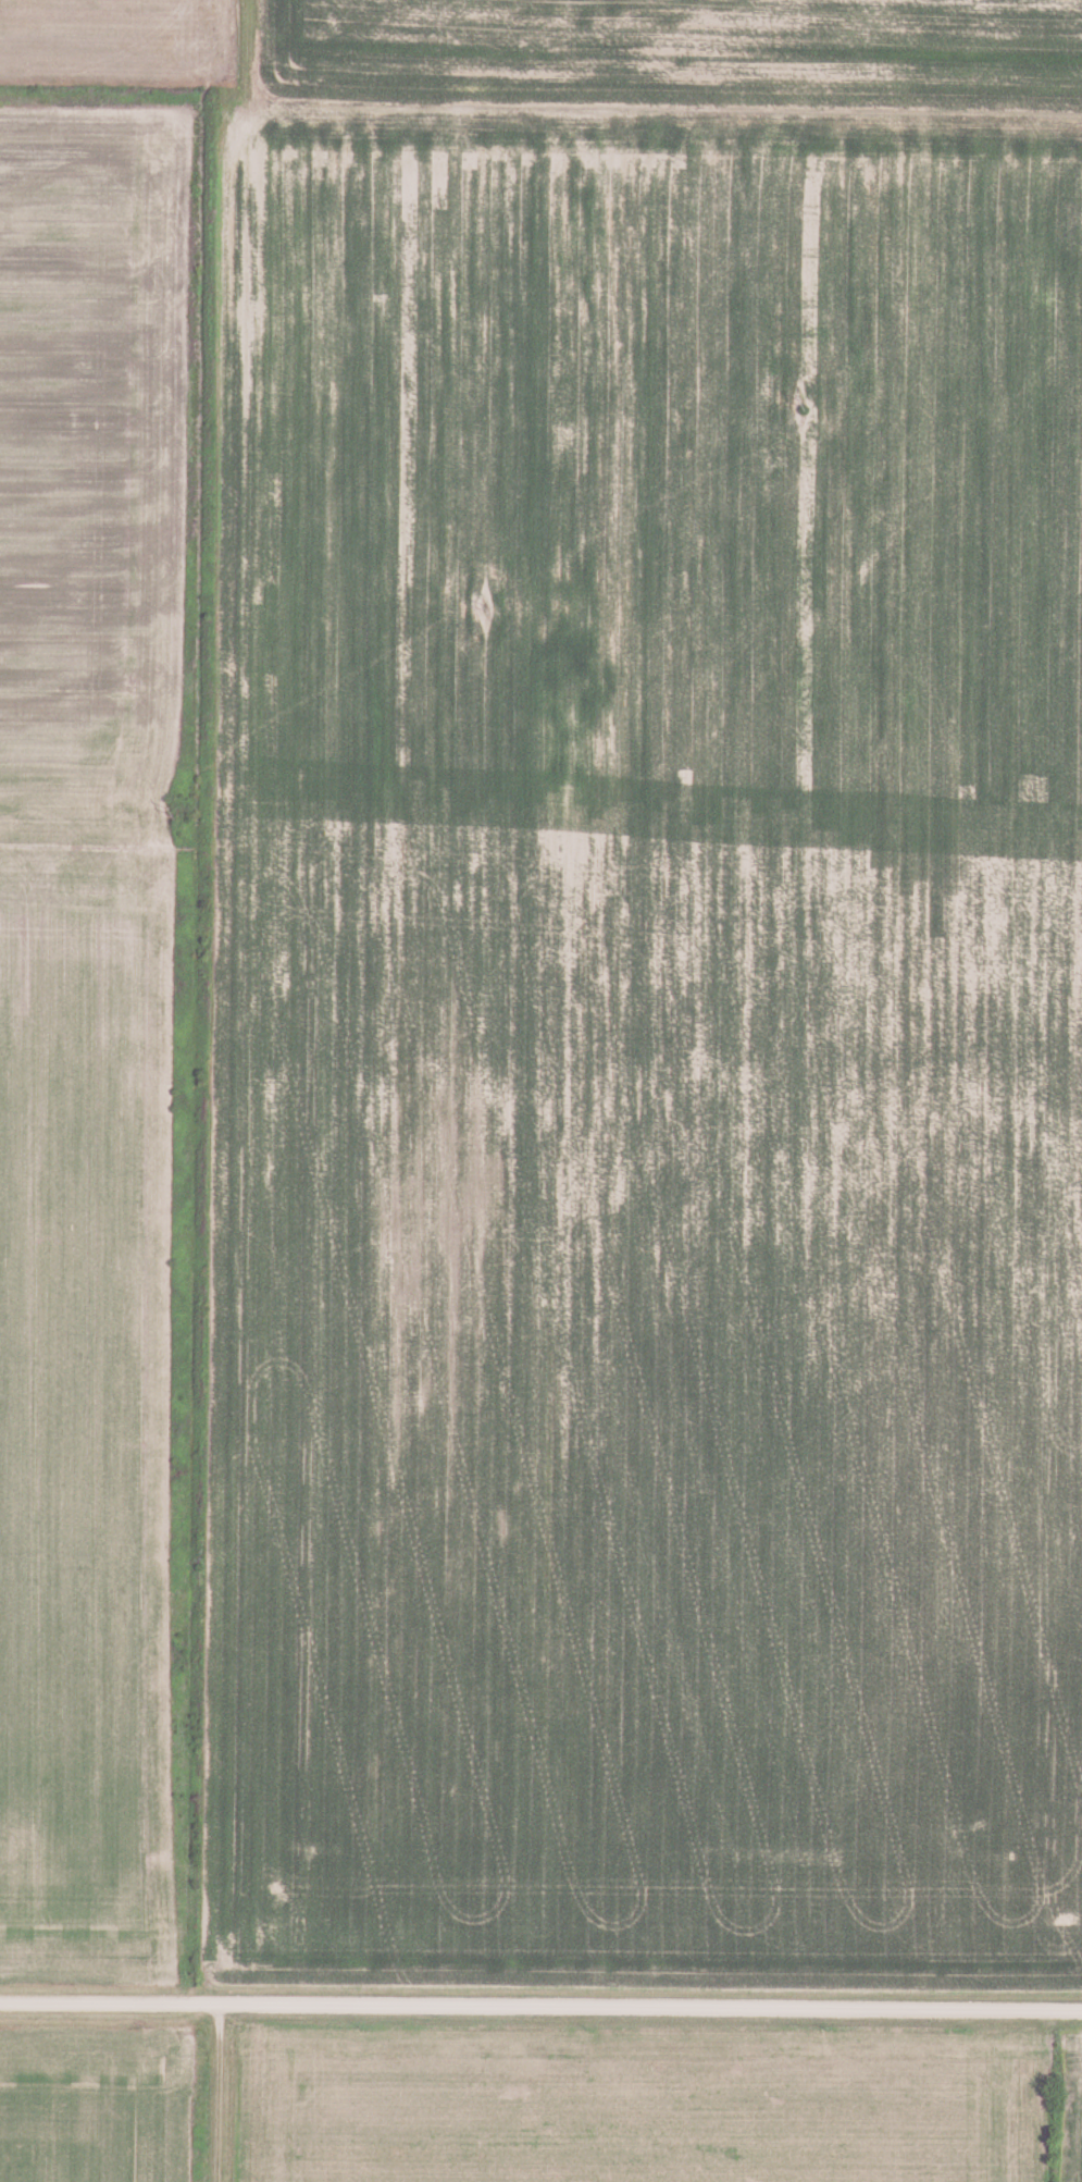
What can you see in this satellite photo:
road: (540, 2007)

